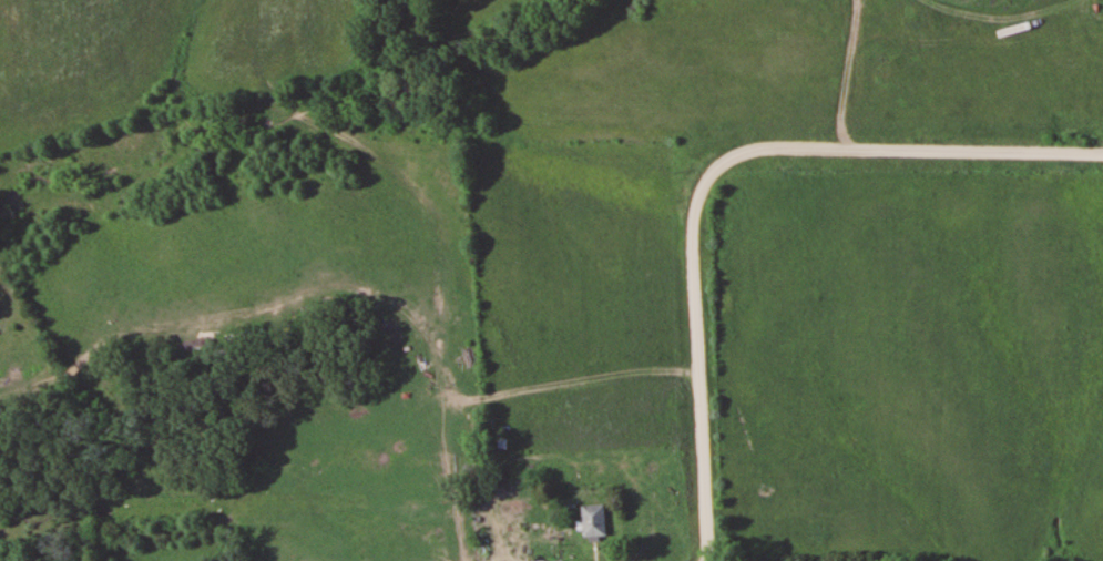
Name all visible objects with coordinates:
road: (755, 180)
building: (590, 520)

